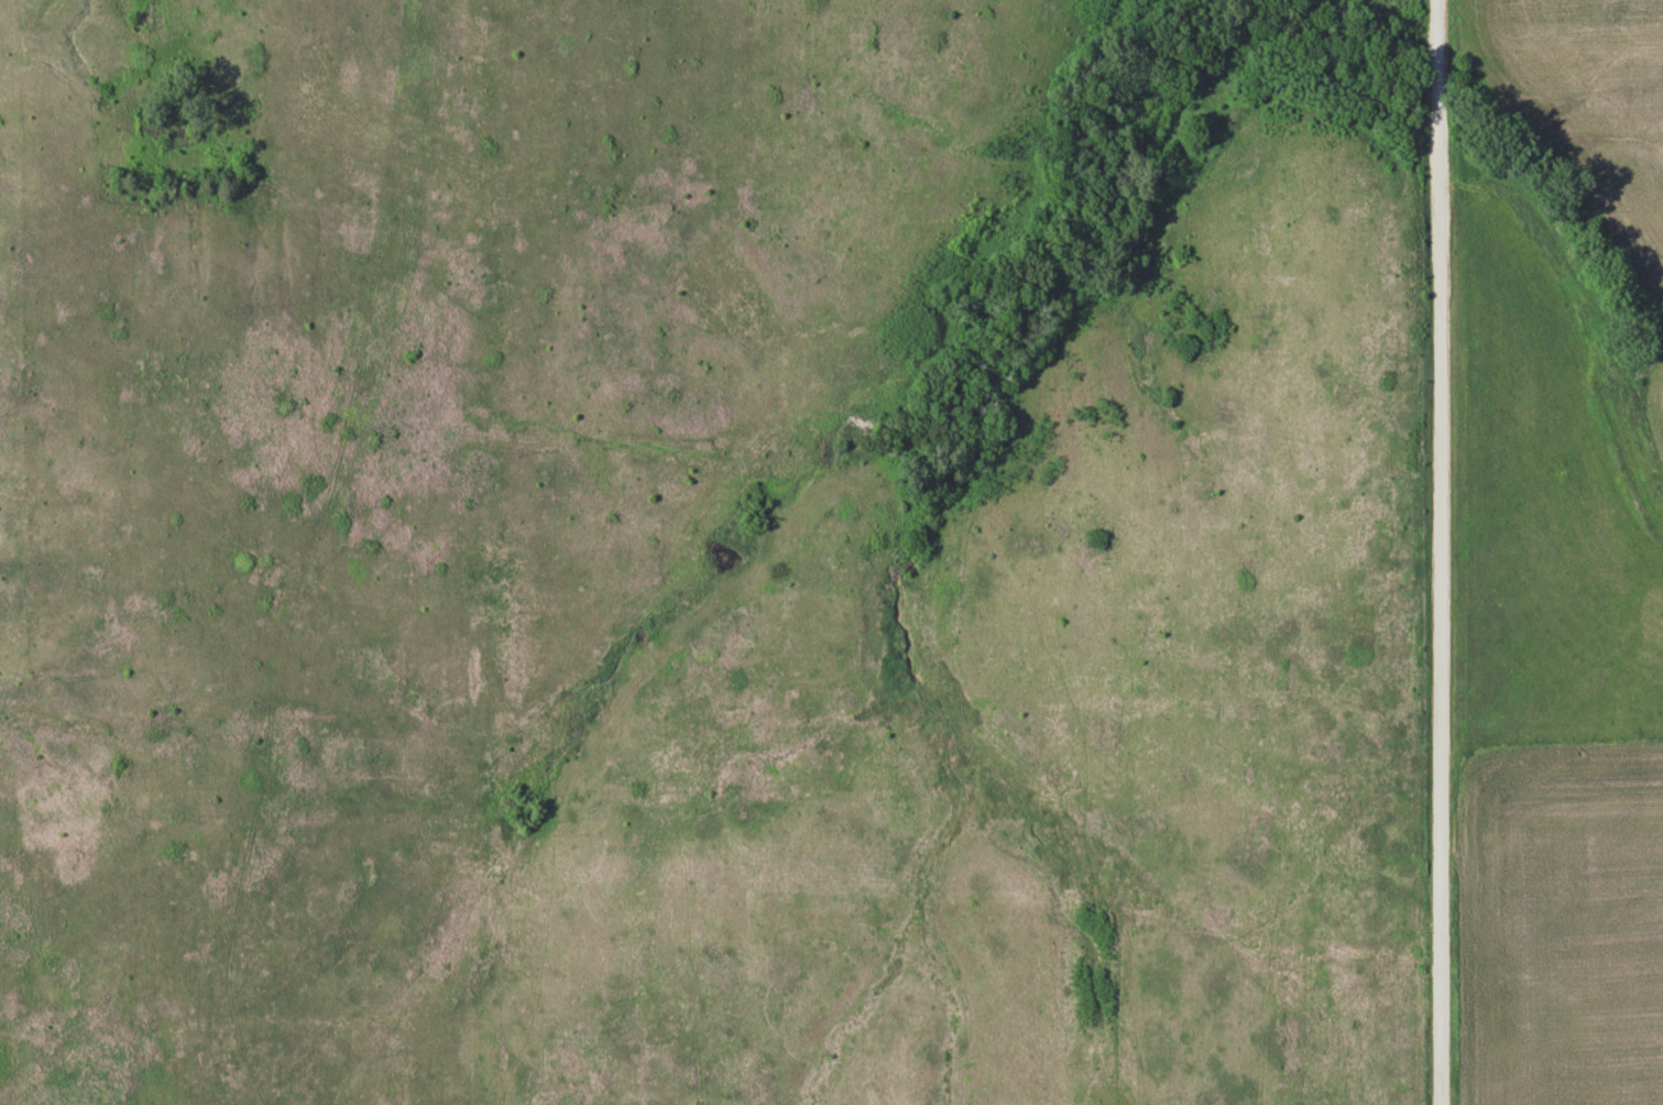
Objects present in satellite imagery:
road: (1437, 551)

